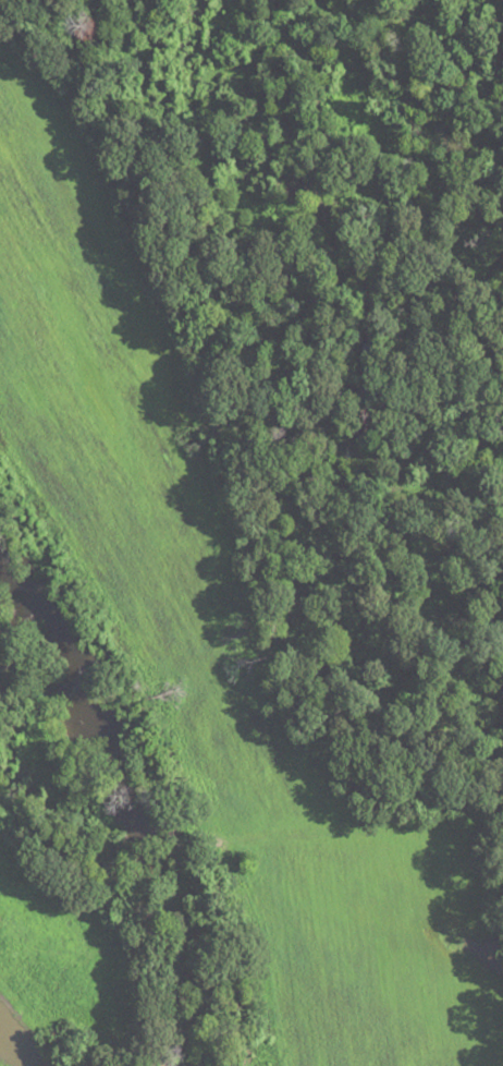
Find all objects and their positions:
crop: (218, 608)
crop: (73, 960)

